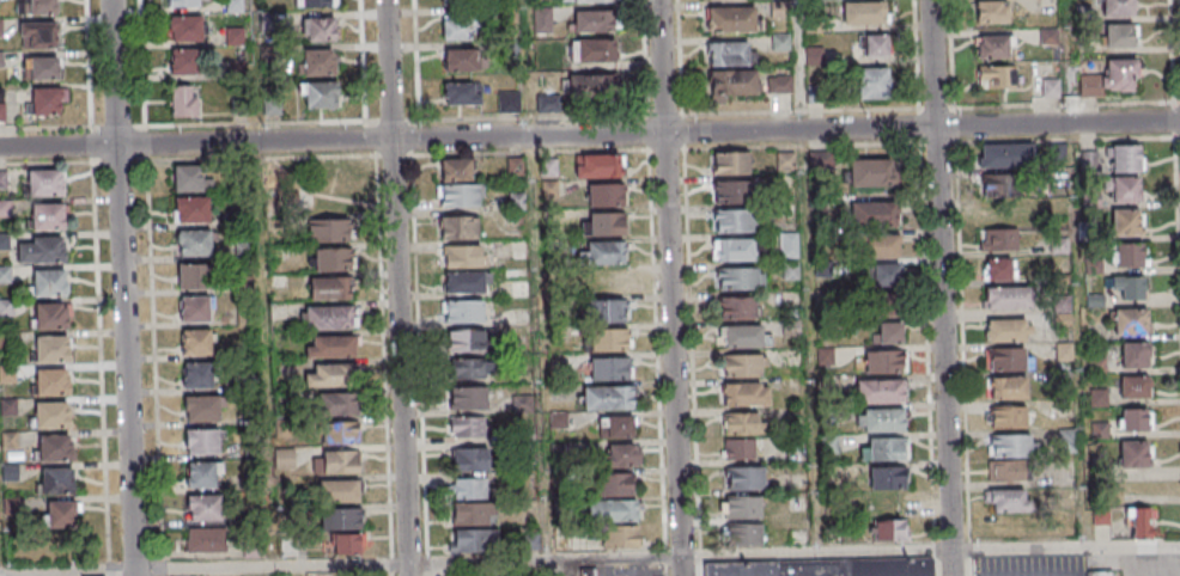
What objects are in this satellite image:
building: (592, 0)
building: (183, 2)
building: (315, 2)
building: (457, 2)
building: (36, 6)
building: (1118, 7)
building: (991, 11)
building: (868, 13)
building: (542, 18)
building: (731, 18)
building: (592, 20)
building: (187, 27)
building: (0, 29)
building: (321, 29)
building: (458, 29)
building: (37, 35)
building: (1119, 35)
building: (996, 45)
building: (874, 47)
building: (596, 50)
building: (730, 53)
building: (1, 59)
building: (460, 59)
building: (183, 61)
building: (318, 61)
road: (795, 65)
building: (39, 68)
road: (387, 69)
building: (1120, 74)
building: (997, 76)
building: (732, 82)
building: (779, 84)
building: (872, 84)
building: (592, 85)
building: (1045, 87)
building: (462, 93)
building: (318, 94)
building: (45, 100)
building: (184, 100)
building: (509, 100)
building: (548, 103)
building: (2, 111)
road: (784, 130)
road: (194, 143)
building: (1005, 157)
building: (1125, 158)
building: (785, 161)
building: (731, 163)
building: (604, 165)
building: (456, 170)
building: (871, 173)
building: (187, 178)
building: (45, 184)
building: (999, 186)
building: (1124, 189)
building: (731, 191)
building: (604, 194)
building: (457, 195)
building: (191, 208)
building: (875, 214)
building: (48, 216)
building: (734, 220)
building: (1126, 221)
building: (604, 223)
building: (456, 226)
building: (328, 228)
building: (999, 239)
building: (194, 241)
building: (881, 245)
building: (39, 249)
building: (734, 249)
building: (789, 249)
building: (604, 252)
building: (460, 255)
building: (1127, 255)
building: (332, 258)
building: (999, 268)
building: (884, 275)
building: (194, 276)
building: (737, 278)
building: (47, 281)
road: (95, 281)
building: (462, 281)
road: (148, 284)
building: (1130, 286)
building: (327, 287)
road: (669, 287)
road: (122, 288)
road: (938, 288)
building: (1008, 298)
building: (193, 307)
building: (737, 307)
building: (462, 310)
building: (602, 310)
building: (49, 314)
building: (330, 315)
building: (1131, 320)
building: (1008, 330)
building: (888, 332)
building: (744, 335)
building: (606, 337)
building: (463, 339)
building: (194, 341)
building: (333, 345)
building: (50, 349)
building: (1065, 353)
building: (1135, 354)
road: (399, 357)
building: (1008, 359)
building: (884, 360)
building: (744, 363)
building: (607, 367)
building: (462, 368)
building: (195, 374)
building: (330, 374)
building: (50, 381)
building: (1135, 386)
building: (1008, 387)
building: (880, 390)
building: (746, 393)
building: (610, 396)
building: (464, 397)
building: (336, 403)
building: (201, 406)
building: (49, 415)
building: (1009, 417)
building: (880, 418)
building: (1135, 419)
building: (743, 422)
building: (467, 425)
building: (616, 425)
building: (336, 433)
building: (200, 440)
building: (53, 447)
building: (1011, 447)
building: (740, 448)
building: (886, 448)
building: (622, 454)
building: (1135, 454)
building: (466, 458)
building: (337, 461)
building: (1004, 472)
building: (197, 474)
building: (888, 477)
building: (743, 478)
building: (55, 479)
building: (616, 483)
building: (469, 488)
building: (336, 491)
building: (1008, 501)
building: (201, 507)
building: (742, 508)
building: (612, 509)
building: (60, 513)
building: (468, 513)
building: (339, 519)
building: (1138, 522)
building: (890, 528)
building: (743, 535)
building: (620, 537)
building: (203, 540)
building: (468, 540)
building: (346, 544)
road: (589, 559)
parking lot: (1139, 563)
parking lot: (1034, 565)
building: (827, 566)
parking lot: (643, 570)
building: (588, 572)
building: (1103, 572)

